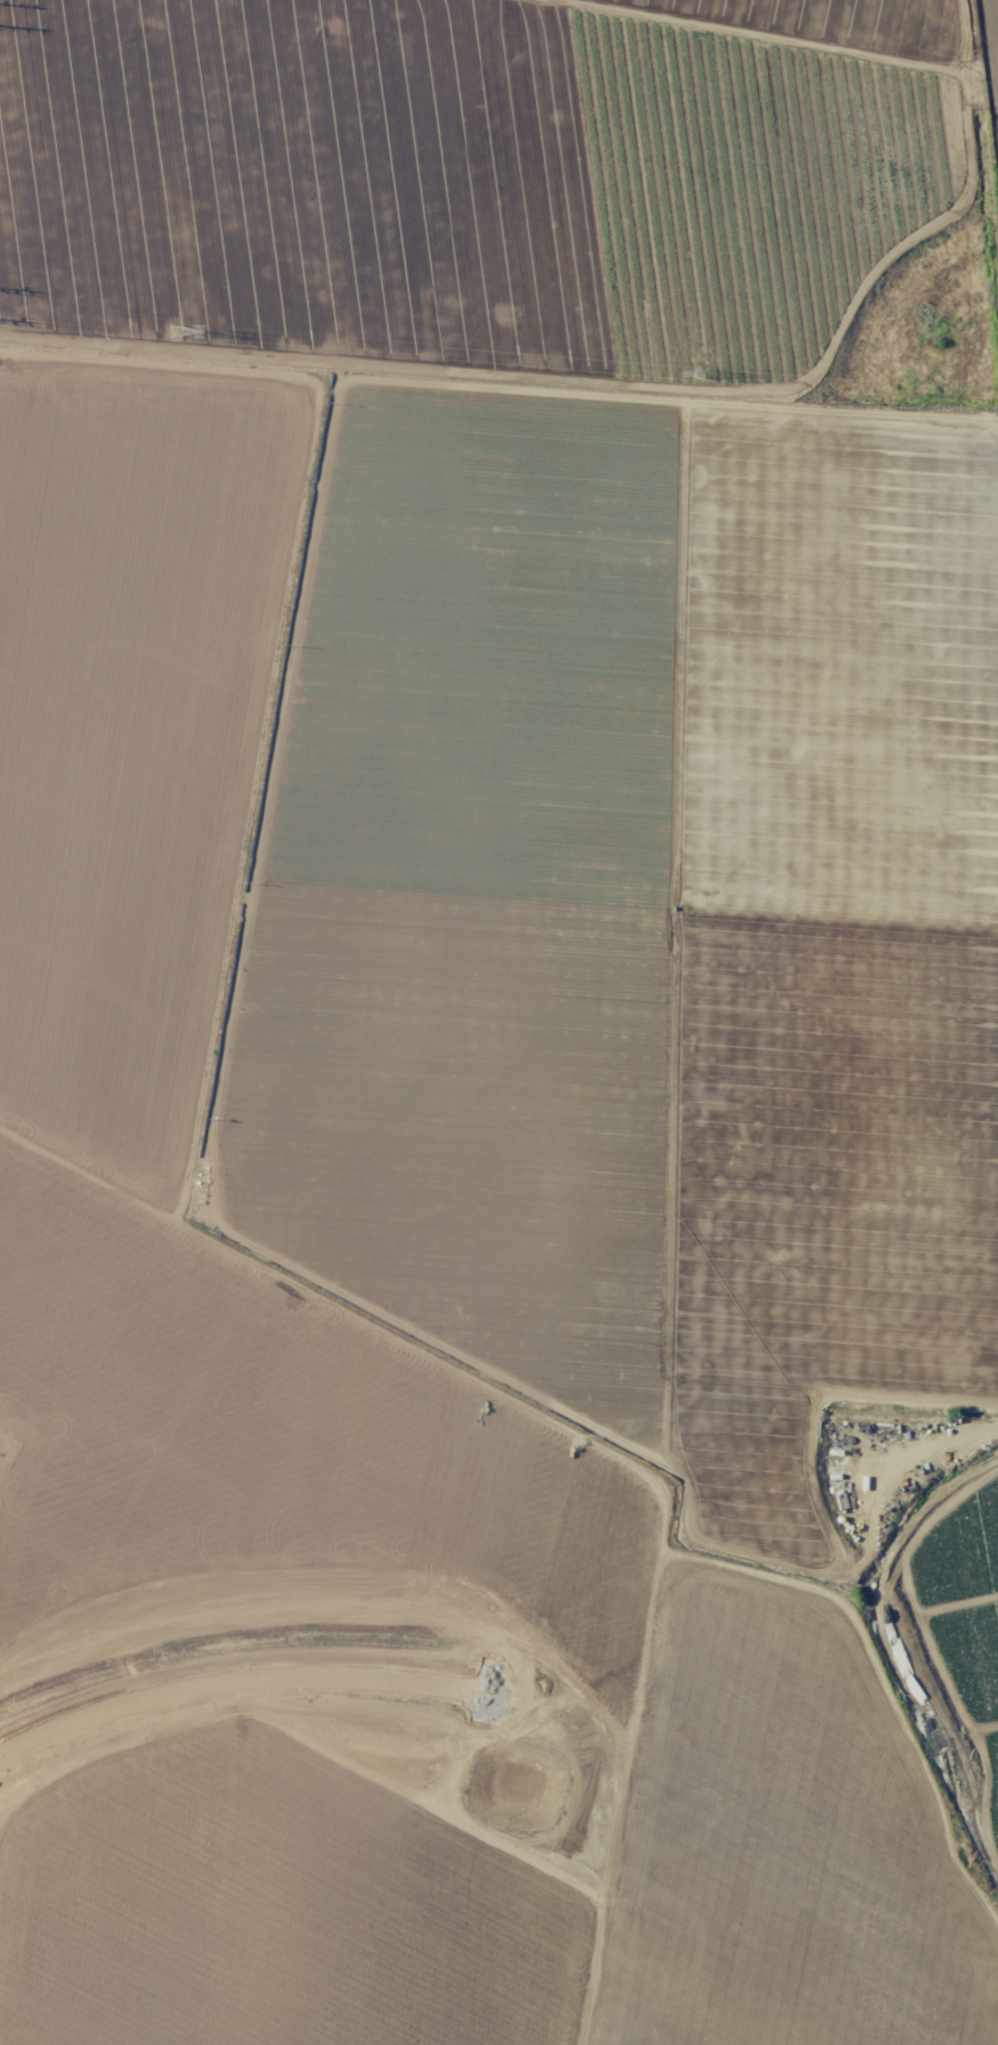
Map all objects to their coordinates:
road: (976, 167)
power tower: (174, 330)
power tower: (702, 373)
crop: (497, 1024)

